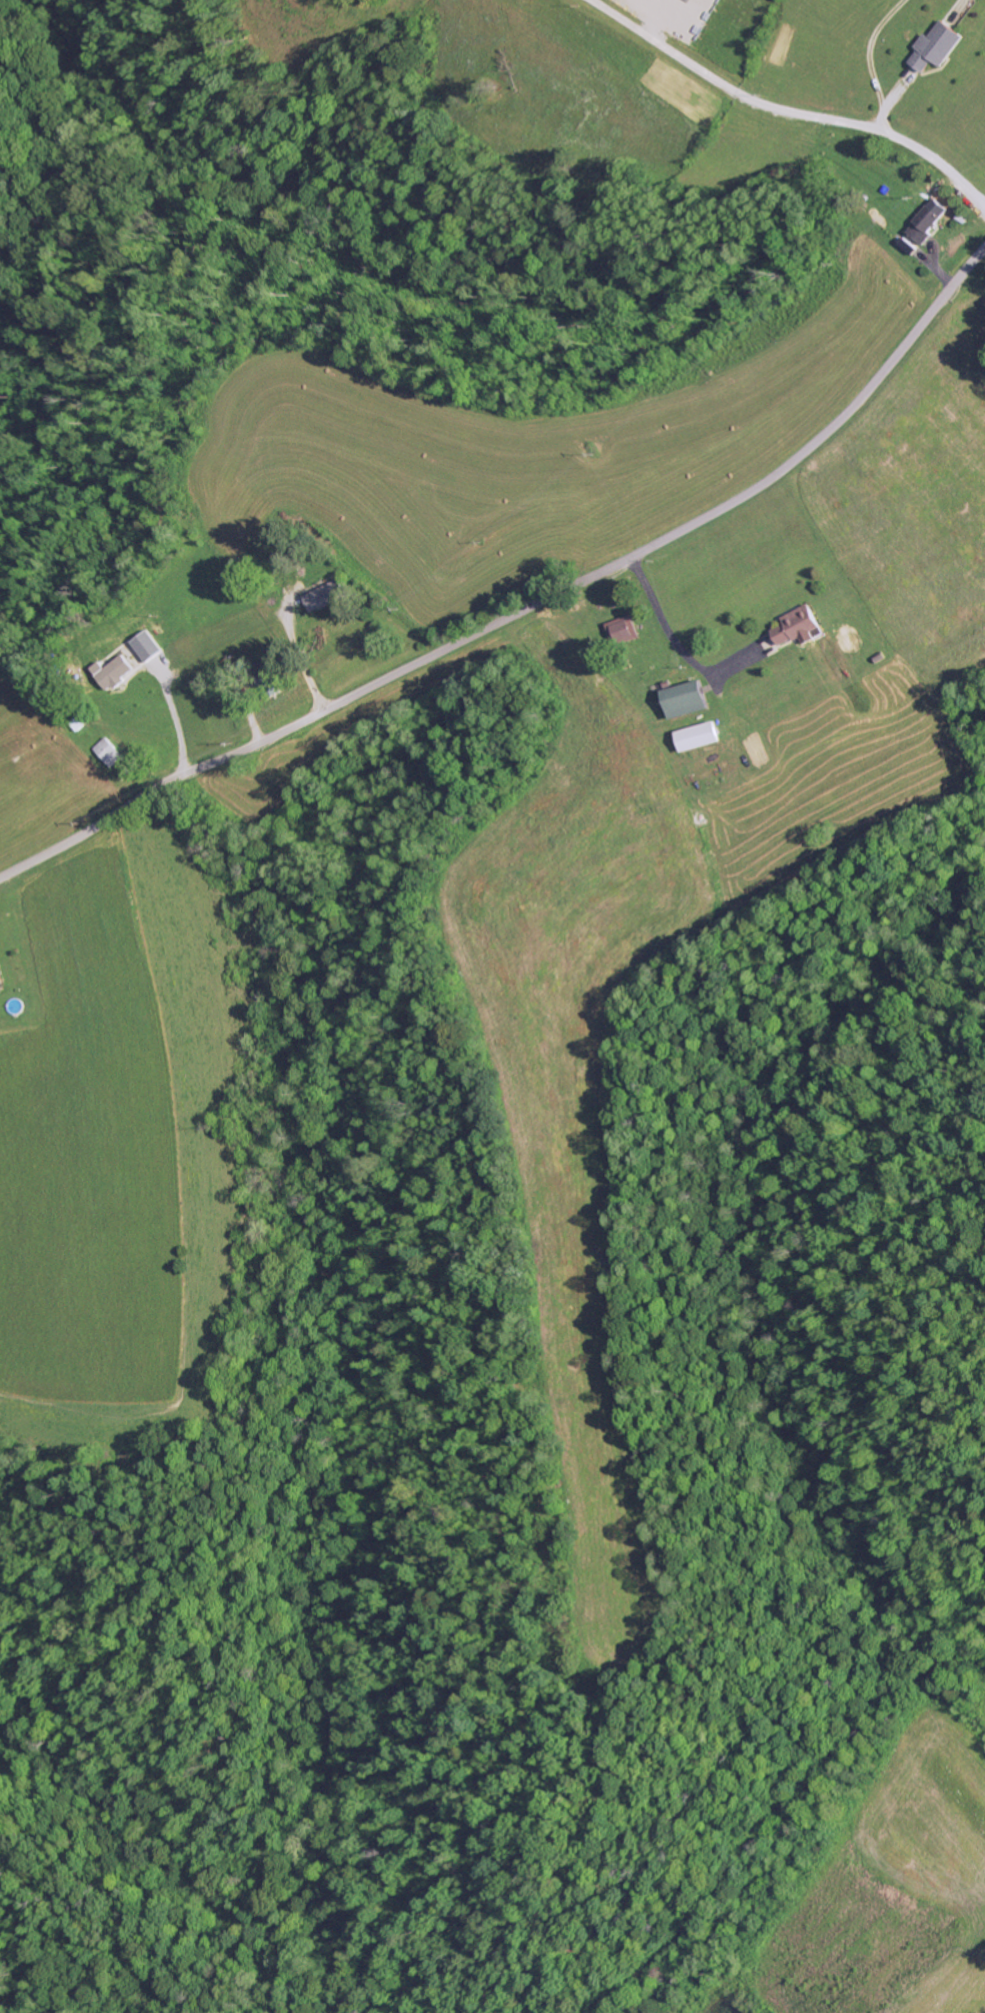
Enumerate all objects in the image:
building: (936, 47)
road: (857, 215)
building: (925, 226)
building: (326, 596)
road: (526, 610)
building: (798, 626)
building: (623, 630)
building: (146, 645)
building: (112, 671)
building: (685, 699)
building: (697, 736)
building: (109, 752)
building: (1, 979)
road: (785, 1825)
road: (127, 1933)

